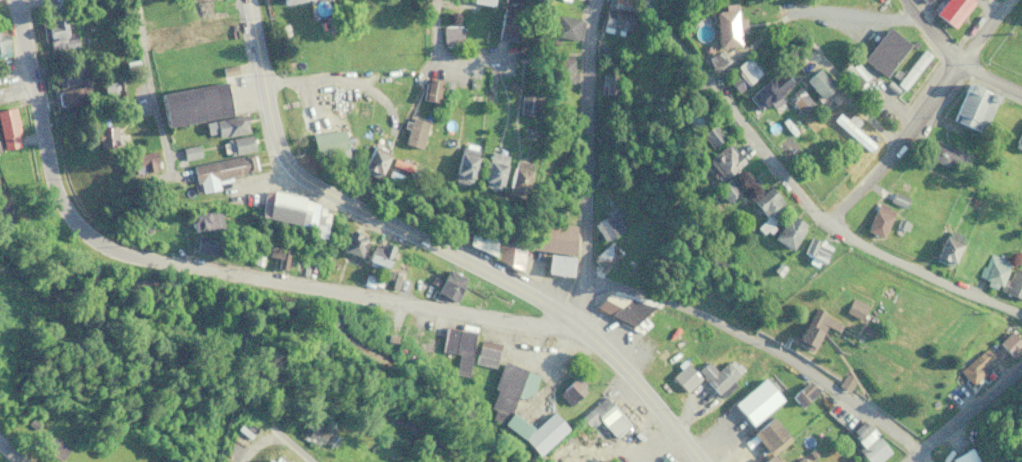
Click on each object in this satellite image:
building: (926, 0)
building: (292, 1)
building: (511, 1)
building: (577, 1)
building: (952, 11)
building: (617, 22)
building: (509, 23)
building: (726, 28)
building: (58, 35)
building: (451, 36)
building: (212, 38)
road: (438, 38)
building: (158, 39)
building: (3, 44)
building: (884, 51)
road: (956, 59)
building: (911, 68)
building: (564, 70)
building: (742, 74)
road: (389, 79)
building: (858, 80)
building: (817, 82)
building: (608, 83)
building: (71, 85)
road: (151, 87)
building: (430, 91)
building: (769, 91)
building: (799, 100)
building: (193, 104)
building: (526, 104)
building: (971, 105)
road: (923, 113)
building: (692, 115)
building: (230, 125)
building: (8, 128)
building: (413, 132)
building: (104, 134)
building: (710, 134)
building: (1018, 140)
building: (327, 141)
building: (237, 144)
building: (189, 151)
building: (941, 154)
building: (724, 159)
building: (143, 160)
building: (372, 160)
road: (592, 162)
building: (463, 163)
building: (491, 168)
building: (218, 170)
building: (517, 177)
building: (724, 191)
road: (799, 195)
building: (279, 205)
road: (353, 205)
building: (765, 206)
building: (205, 219)
building: (315, 219)
building: (877, 220)
building: (607, 224)
building: (787, 230)
building: (482, 240)
building: (351, 244)
building: (554, 245)
building: (946, 246)
building: (205, 248)
building: (815, 249)
building: (276, 255)
building: (376, 255)
building: (605, 255)
road: (220, 263)
building: (993, 269)
building: (449, 284)
building: (1014, 284)
building: (619, 307)
building: (854, 308)
building: (814, 327)
road: (783, 340)
building: (455, 352)
building: (668, 353)
railway: (229, 366)
building: (972, 369)
building: (718, 374)
building: (684, 376)
road: (640, 387)
building: (806, 390)
building: (505, 391)
building: (755, 401)
road: (961, 409)
building: (602, 416)
building: (767, 433)
building: (312, 434)
building: (868, 443)
road: (255, 445)
road: (292, 445)
road: (10, 452)
building: (963, 456)
building: (766, 459)
building: (265, 460)

